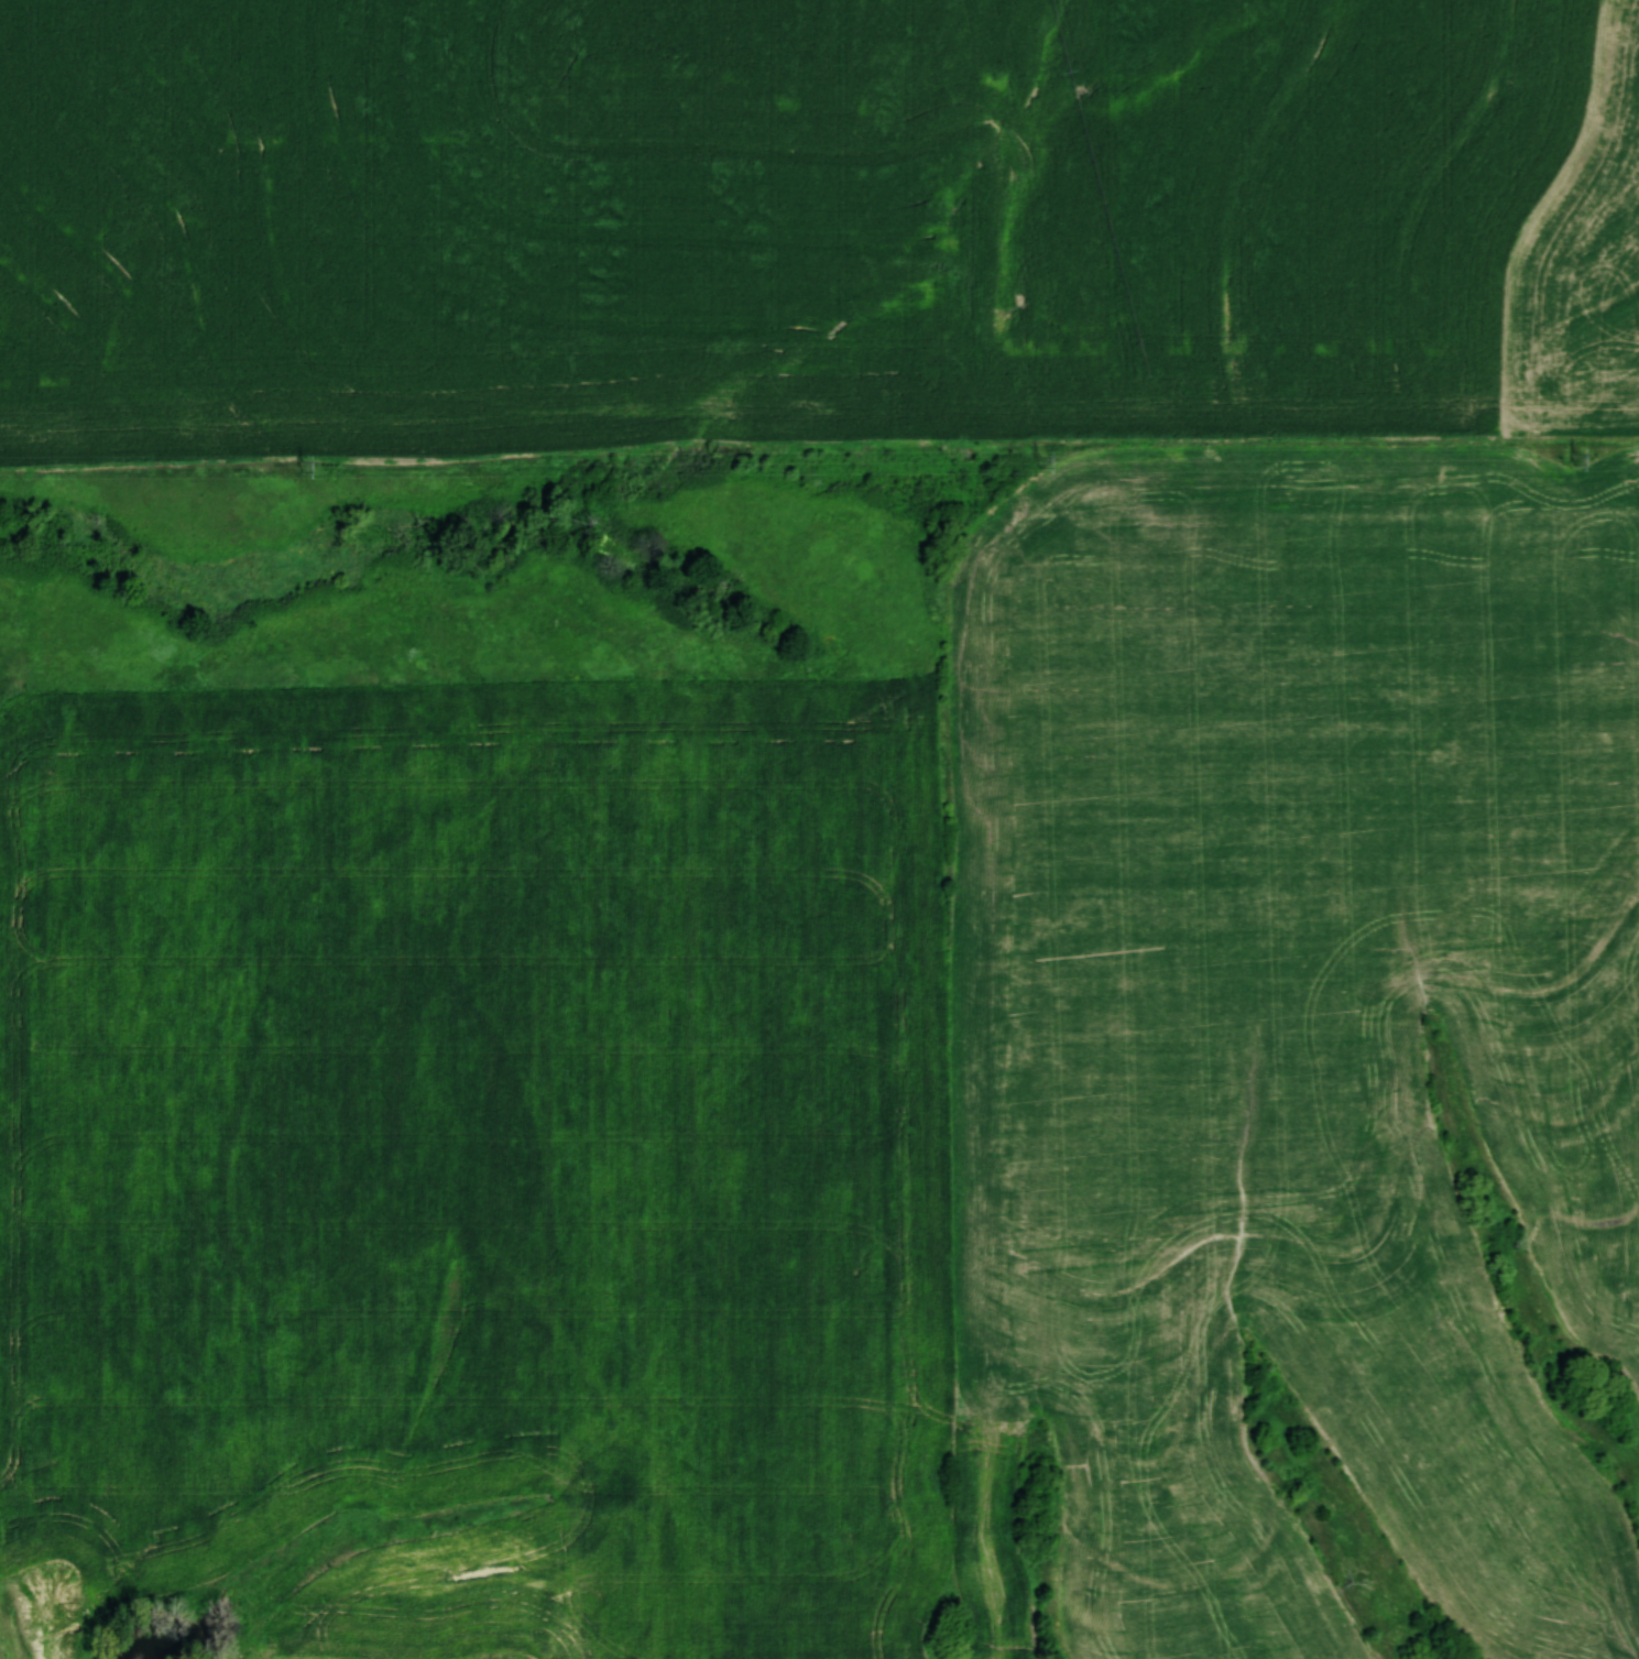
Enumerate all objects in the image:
power tower: (1574, 459)
power tower: (1039, 462)
power tower: (302, 467)

